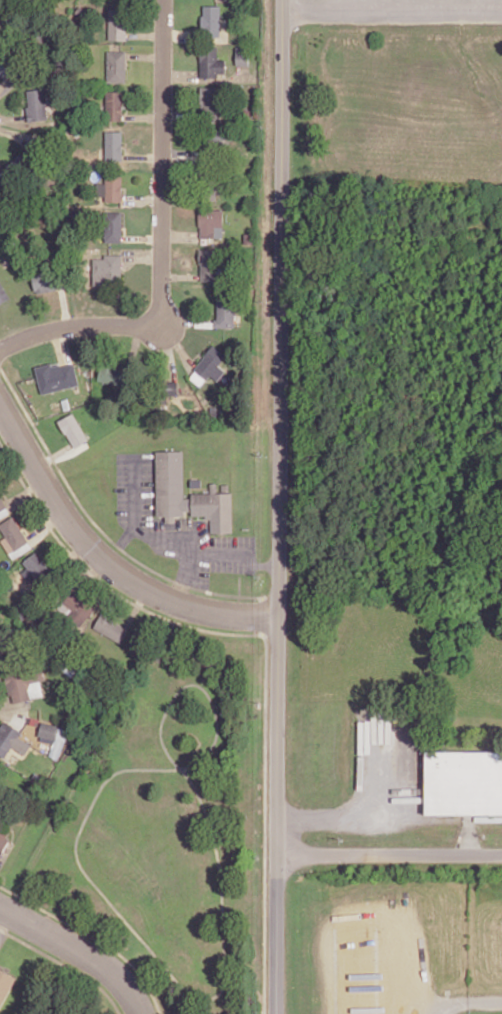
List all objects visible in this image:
road: (392, 7)
building: (211, 20)
building: (117, 23)
building: (241, 55)
building: (211, 62)
building: (7, 65)
building: (116, 66)
building: (209, 98)
building: (36, 104)
building: (114, 105)
building: (212, 142)
building: (114, 145)
building: (3, 181)
building: (111, 187)
building: (211, 222)
building: (113, 226)
road: (163, 241)
building: (209, 266)
building: (107, 269)
building: (44, 281)
building: (3, 294)
building: (225, 310)
building: (209, 365)
building: (113, 375)
building: (56, 376)
building: (169, 387)
building: (73, 429)
building: (197, 481)
building: (171, 487)
building: (2, 503)
road: (281, 507)
road: (135, 511)
building: (14, 538)
road: (186, 546)
road: (236, 553)
road: (105, 559)
building: (36, 568)
building: (77, 608)
building: (111, 627)
building: (2, 652)
building: (21, 684)
building: (54, 737)
building: (11, 739)
building: (463, 782)
road: (340, 815)
park: (160, 840)
building: (3, 841)
road: (389, 854)
street lamp: (299, 871)
road: (79, 951)
building: (5, 984)
road: (465, 1001)

